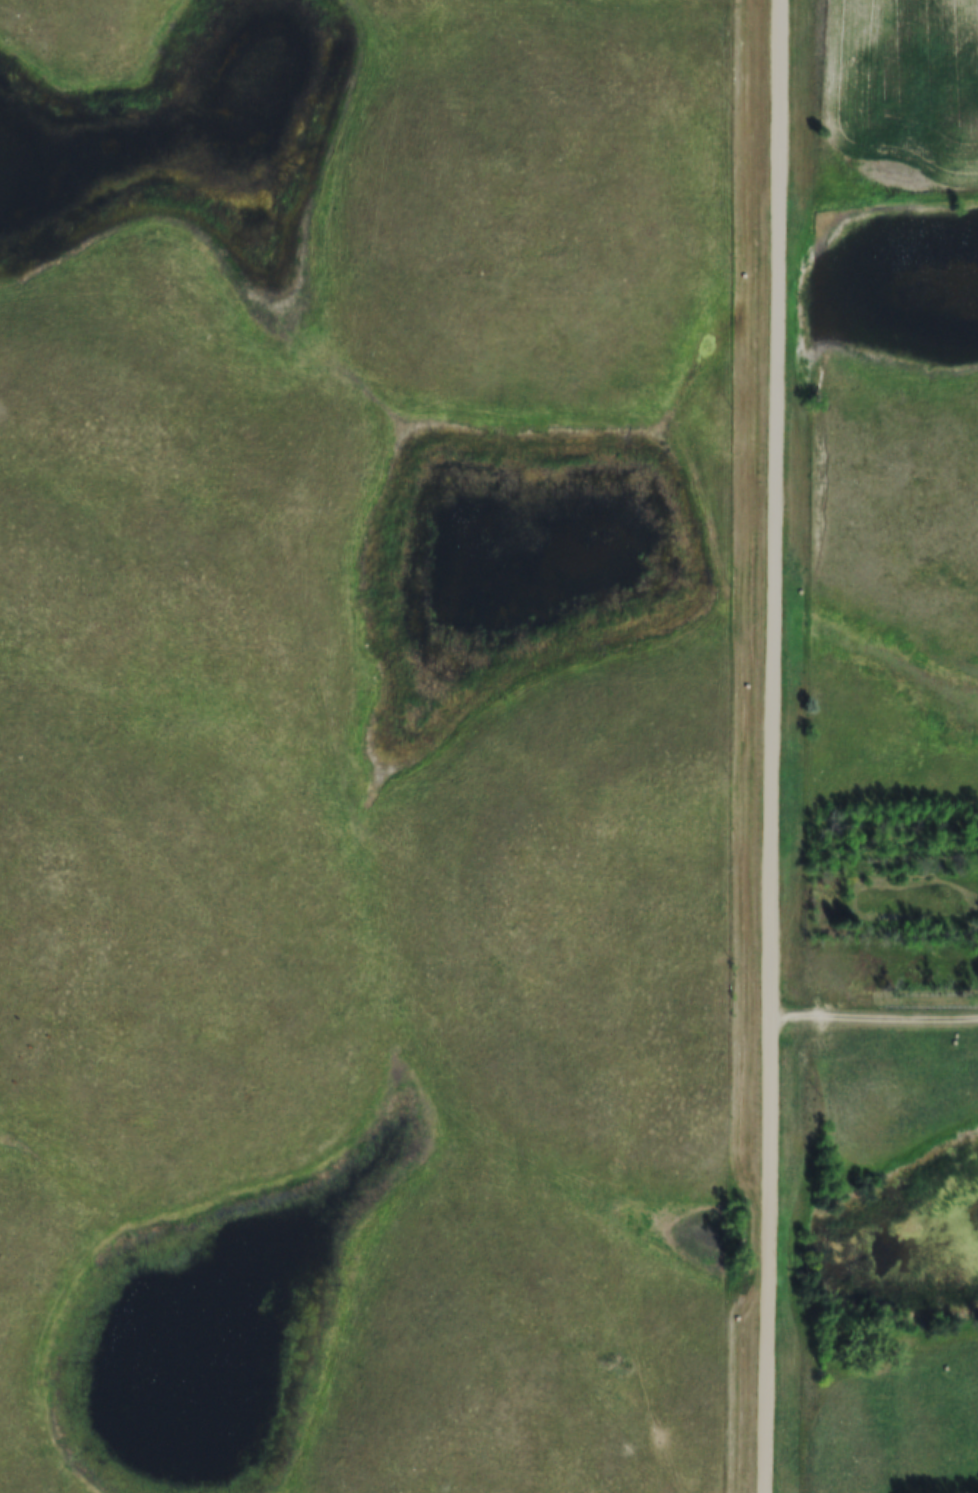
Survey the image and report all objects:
building: (205, 523)
road: (774, 746)
road: (872, 1015)
building: (550, 1336)

